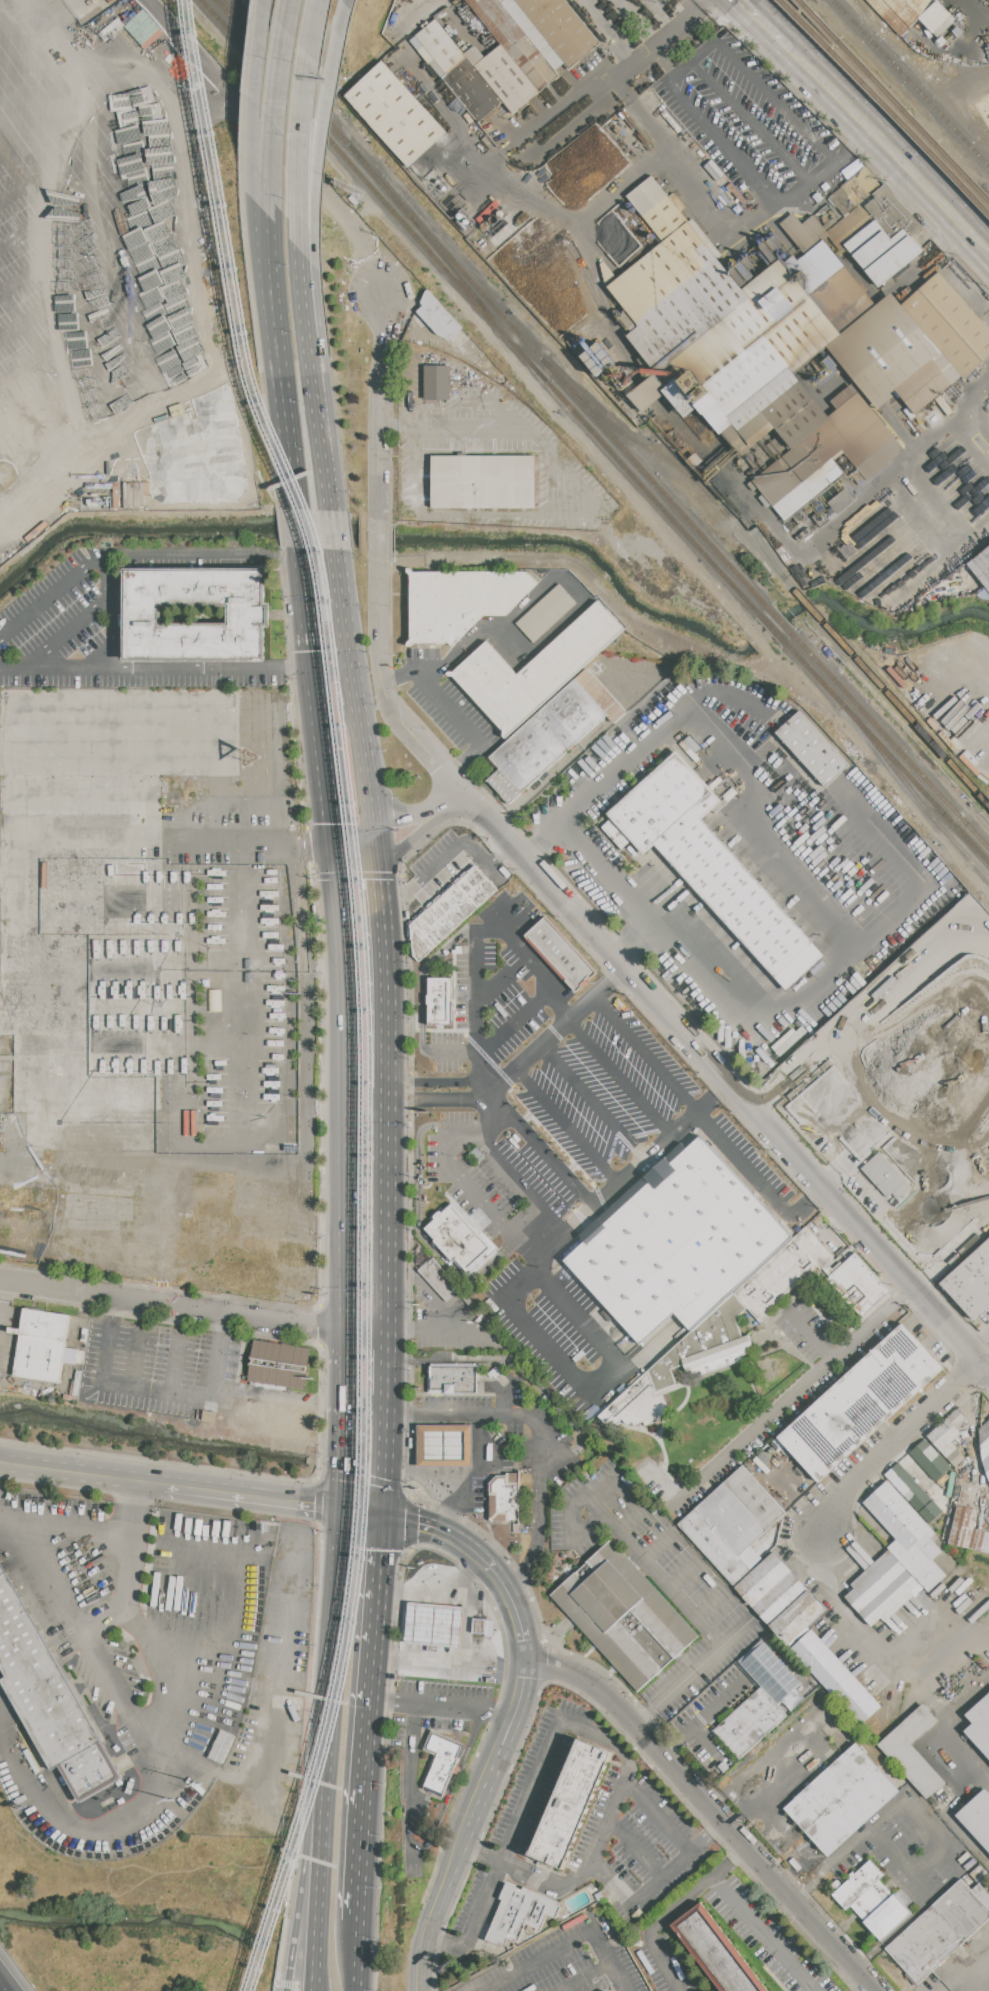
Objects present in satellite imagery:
building: (502, 0)
road: (265, 2)
road: (290, 14)
building: (915, 14)
road: (973, 22)
road: (764, 23)
building: (561, 27)
road: (316, 28)
railway: (243, 29)
railway: (248, 29)
road: (343, 39)
building: (514, 42)
road: (704, 49)
road: (663, 53)
road: (684, 64)
building: (458, 70)
building: (503, 75)
railway: (915, 80)
road: (591, 83)
railway: (897, 97)
road: (259, 98)
road: (777, 99)
railway: (888, 102)
road: (205, 106)
road: (881, 109)
building: (395, 113)
road: (277, 116)
road: (448, 118)
road: (750, 122)
railway: (332, 127)
road: (272, 140)
road: (301, 143)
road: (853, 143)
road: (889, 149)
road: (3, 157)
road: (322, 162)
road: (745, 167)
railway: (353, 169)
road: (618, 190)
road: (14, 195)
road: (713, 216)
road: (24, 230)
building: (804, 231)
road: (263, 248)
building: (883, 251)
road: (272, 254)
railway: (450, 267)
road: (85, 269)
road: (201, 273)
road: (35, 274)
parking lot: (66, 279)
road: (305, 285)
road: (315, 293)
road: (46, 311)
building: (438, 316)
building: (924, 344)
road: (56, 346)
building: (750, 346)
road: (444, 362)
road: (51, 370)
road: (66, 383)
building: (438, 383)
road: (408, 397)
road: (284, 406)
road: (376, 408)
road: (499, 408)
railway: (667, 410)
road: (76, 421)
road: (322, 425)
road: (453, 430)
road: (974, 431)
power tower: (1, 477)
building: (482, 482)
road: (549, 483)
road: (513, 514)
railway: (691, 524)
road: (298, 528)
road: (334, 531)
road: (377, 538)
road: (816, 552)
road: (204, 555)
building: (982, 567)
railway: (783, 579)
road: (52, 595)
building: (460, 601)
railway: (746, 601)
road: (306, 608)
road: (110, 611)
building: (546, 613)
building: (249, 615)
road: (512, 617)
road: (378, 627)
road: (552, 632)
road: (65, 635)
road: (233, 668)
traffic signals: (313, 668)
road: (55, 670)
road: (423, 670)
building: (534, 670)
road: (354, 685)
building: (600, 695)
road: (724, 696)
road: (317, 706)
parking lot: (447, 706)
road: (465, 727)
building: (544, 740)
road: (423, 747)
building: (812, 748)
road: (602, 779)
railway: (914, 794)
road: (328, 798)
road: (450, 800)
road: (406, 816)
traffic signals: (373, 821)
road: (354, 837)
road: (375, 837)
road: (536, 839)
road: (396, 849)
traffic signals: (335, 853)
traffic signals: (377, 853)
road: (449, 860)
building: (710, 864)
road: (786, 867)
road: (274, 906)
building: (450, 911)
parking lot: (510, 911)
road: (507, 922)
road: (188, 934)
road: (475, 940)
road: (246, 942)
road: (631, 944)
building: (561, 953)
parking lot: (522, 959)
road: (247, 974)
road: (386, 976)
road: (424, 979)
road: (909, 980)
road: (492, 987)
road: (807, 991)
railway: (361, 992)
railway: (370, 992)
building: (440, 1000)
road: (248, 1010)
parking lot: (485, 1013)
road: (915, 1014)
road: (516, 1022)
road: (424, 1031)
road: (556, 1033)
road: (248, 1045)
road: (307, 1049)
road: (452, 1051)
road: (647, 1054)
road: (791, 1075)
road: (721, 1077)
road: (620, 1079)
road: (248, 1082)
road: (436, 1082)
road: (714, 1098)
road: (346, 1100)
road: (437, 1100)
road: (494, 1101)
road: (594, 1103)
road: (248, 1109)
parking lot: (562, 1124)
road: (896, 1126)
road: (566, 1128)
road: (974, 1130)
road: (536, 1147)
road: (248, 1152)
parking lot: (747, 1162)
building: (886, 1177)
road: (758, 1181)
road: (520, 1183)
road: (465, 1184)
road: (611, 1191)
road: (418, 1217)
road: (388, 1218)
building: (459, 1238)
building: (676, 1240)
road: (538, 1262)
building: (783, 1274)
building: (438, 1279)
building: (971, 1282)
road: (518, 1285)
building: (857, 1286)
road: (432, 1293)
road: (7, 1300)
road: (193, 1308)
road: (441, 1329)
parking lot: (561, 1334)
road: (810, 1334)
road: (979, 1343)
building: (42, 1344)
building: (706, 1345)
road: (178, 1350)
road: (105, 1354)
road: (134, 1357)
road: (454, 1359)
road: (387, 1360)
building: (279, 1364)
road: (985, 1368)
parking lot: (157, 1369)
building: (453, 1378)
road: (346, 1383)
road: (606, 1384)
road: (22, 1386)
road: (505, 1394)
road: (212, 1395)
road: (319, 1401)
building: (860, 1402)
building: (637, 1405)
road: (778, 1406)
road: (253, 1410)
road: (475, 1414)
building: (209, 1416)
road: (469, 1419)
road: (421, 1420)
road: (435, 1420)
road: (456, 1420)
building: (948, 1436)
road: (895, 1443)
building: (985, 1445)
road: (421, 1446)
road: (435, 1446)
building: (445, 1446)
road: (455, 1446)
road: (469, 1446)
road: (385, 1449)
building: (930, 1460)
road: (343, 1463)
road: (469, 1470)
road: (421, 1471)
road: (470, 1472)
road: (81, 1473)
road: (435, 1473)
road: (420, 1474)
road: (455, 1477)
road: (604, 1488)
building: (914, 1493)
road: (253, 1496)
building: (504, 1498)
building: (755, 1498)
traffic signals: (343, 1508)
road: (362, 1511)
traffic signals: (382, 1515)
building: (897, 1515)
road: (629, 1519)
building: (731, 1519)
road: (539, 1526)
road: (63, 1528)
road: (572, 1530)
building: (968, 1530)
building: (715, 1547)
road: (656, 1548)
road: (475, 1553)
building: (920, 1562)
road: (340, 1568)
road: (655, 1574)
road: (685, 1575)
building: (763, 1578)
parking lot: (659, 1580)
building: (875, 1581)
road: (434, 1590)
building: (781, 1597)
building: (890, 1599)
road: (711, 1604)
building: (623, 1615)
road: (468, 1616)
building: (798, 1617)
road: (106, 1620)
road: (851, 1623)
building: (479, 1625)
building: (434, 1631)
road: (92, 1643)
road: (166, 1650)
road: (525, 1651)
road: (450, 1660)
road: (692, 1673)
building: (836, 1677)
building: (48, 1699)
road: (732, 1704)
road: (935, 1706)
road: (441, 1707)
road: (368, 1717)
road: (703, 1718)
building: (749, 1722)
building: (980, 1725)
road: (703, 1746)
building: (912, 1751)
road: (498, 1752)
road: (718, 1752)
road: (778, 1761)
building: (442, 1762)
road: (975, 1772)
parking lot: (533, 1775)
road: (624, 1784)
power tower: (202, 1785)
road: (723, 1794)
building: (841, 1800)
power tower: (174, 1801)
building: (569, 1803)
road: (710, 1809)
road: (314, 1810)
road: (327, 1810)
road: (660, 1816)
road: (741, 1817)
building: (977, 1817)
road: (956, 1821)
road: (116, 1826)
road: (515, 1832)
road: (929, 1835)
road: (786, 1840)
parking lot: (649, 1842)
road: (421, 1845)
road: (635, 1849)
road: (897, 1866)
road: (520, 1870)
road: (448, 1875)
road: (654, 1885)
building: (857, 1885)
building: (872, 1900)
road: (672, 1911)
building: (520, 1913)
building: (889, 1915)
building: (940, 1929)
road: (763, 1934)
road: (445, 1944)
road: (422, 1949)
building: (716, 1951)
road: (354, 1956)
road: (539, 1959)
road: (611, 1959)
parking lot: (563, 1964)
road: (965, 1970)
road: (589, 1977)
road: (9, 1979)
building: (612, 1990)

